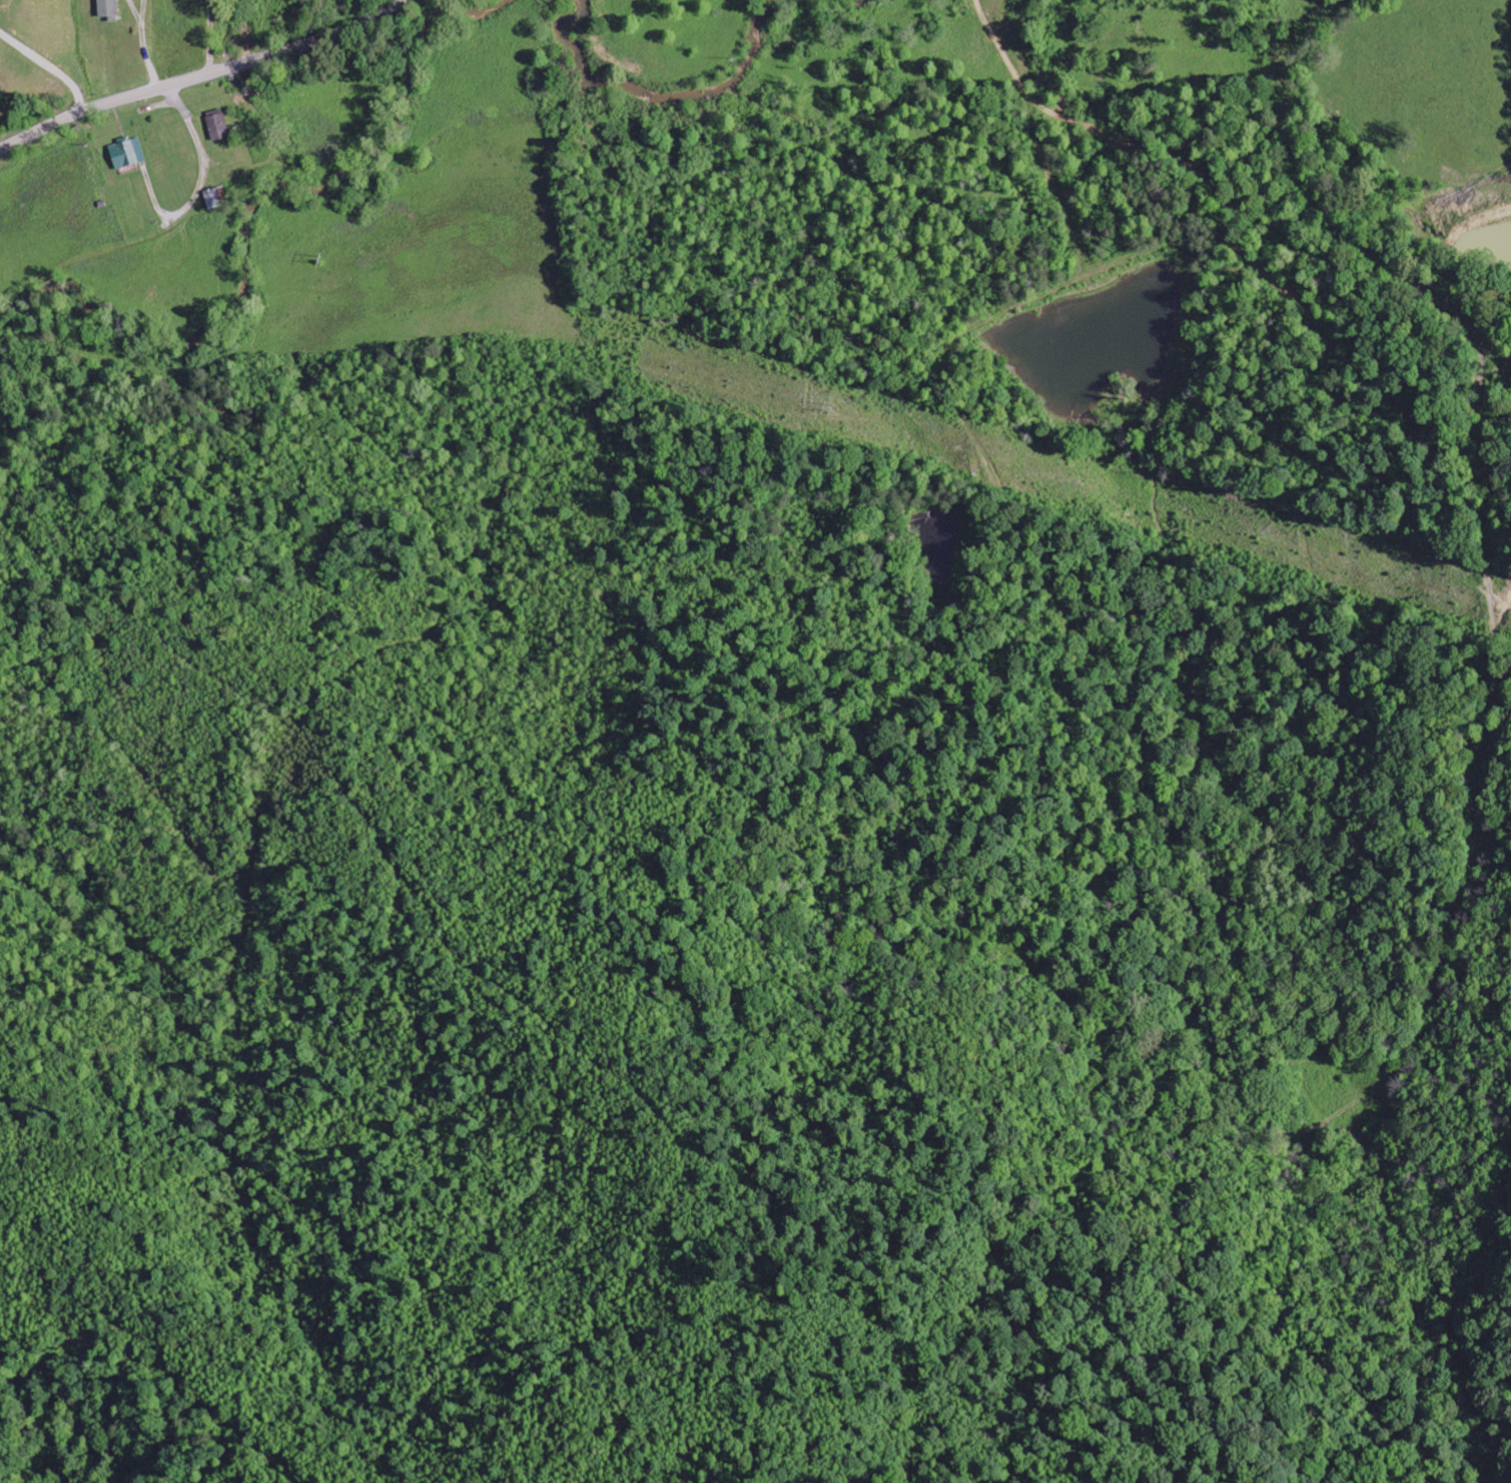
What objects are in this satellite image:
building: (106, 9)
road: (138, 50)
road: (58, 61)
road: (203, 77)
building: (126, 154)
building: (214, 199)

